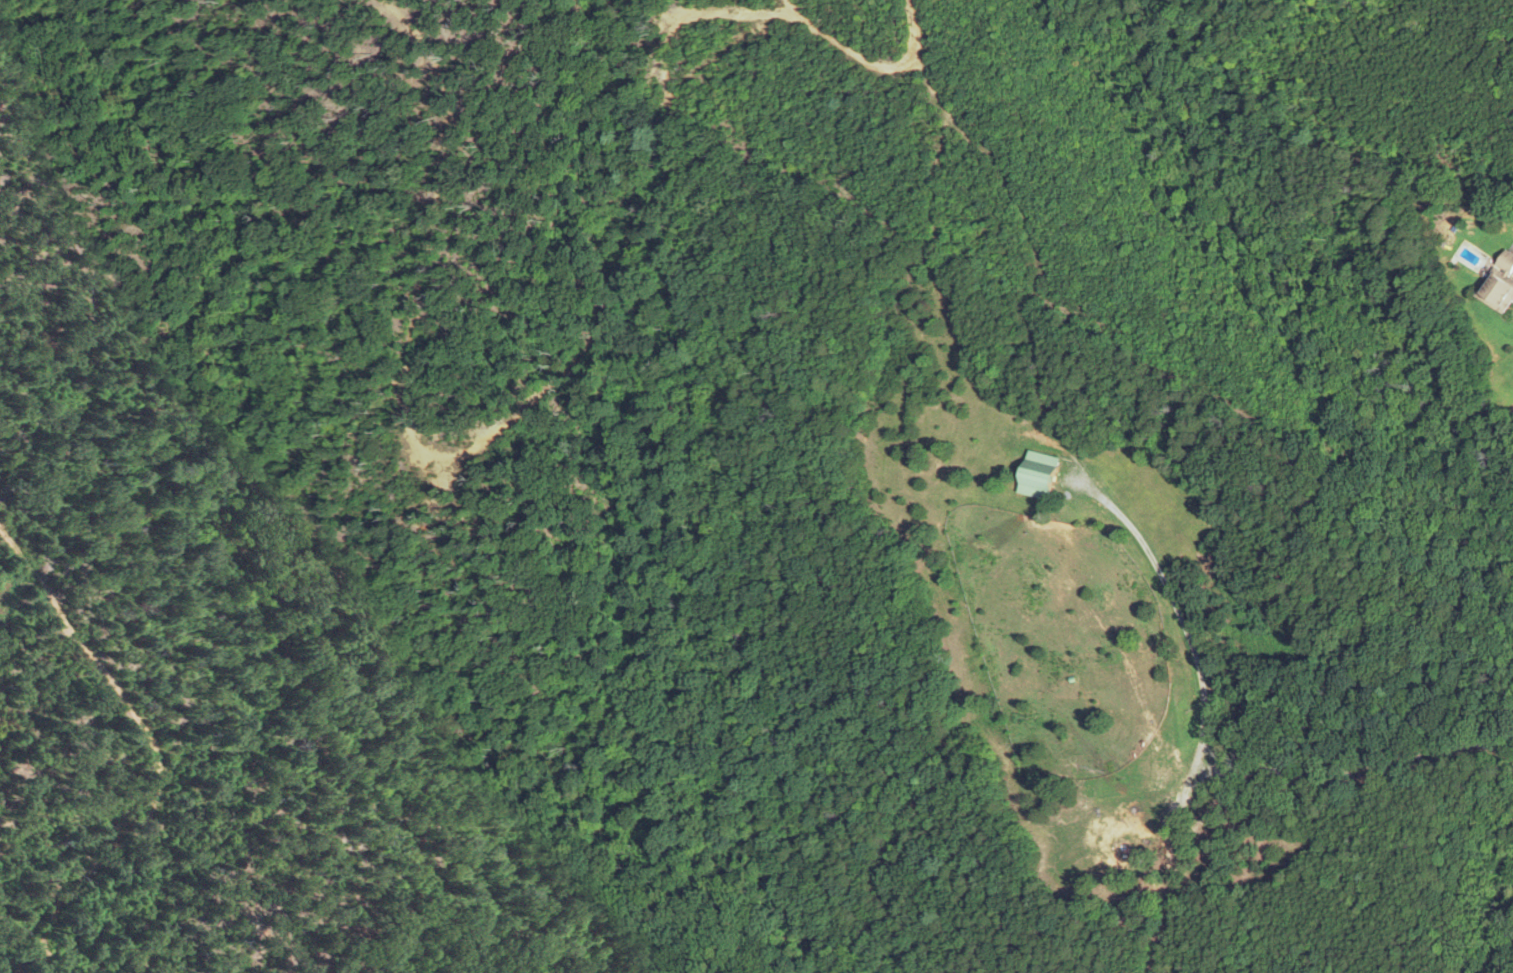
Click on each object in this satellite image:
building: (1500, 283)
building: (1039, 474)

